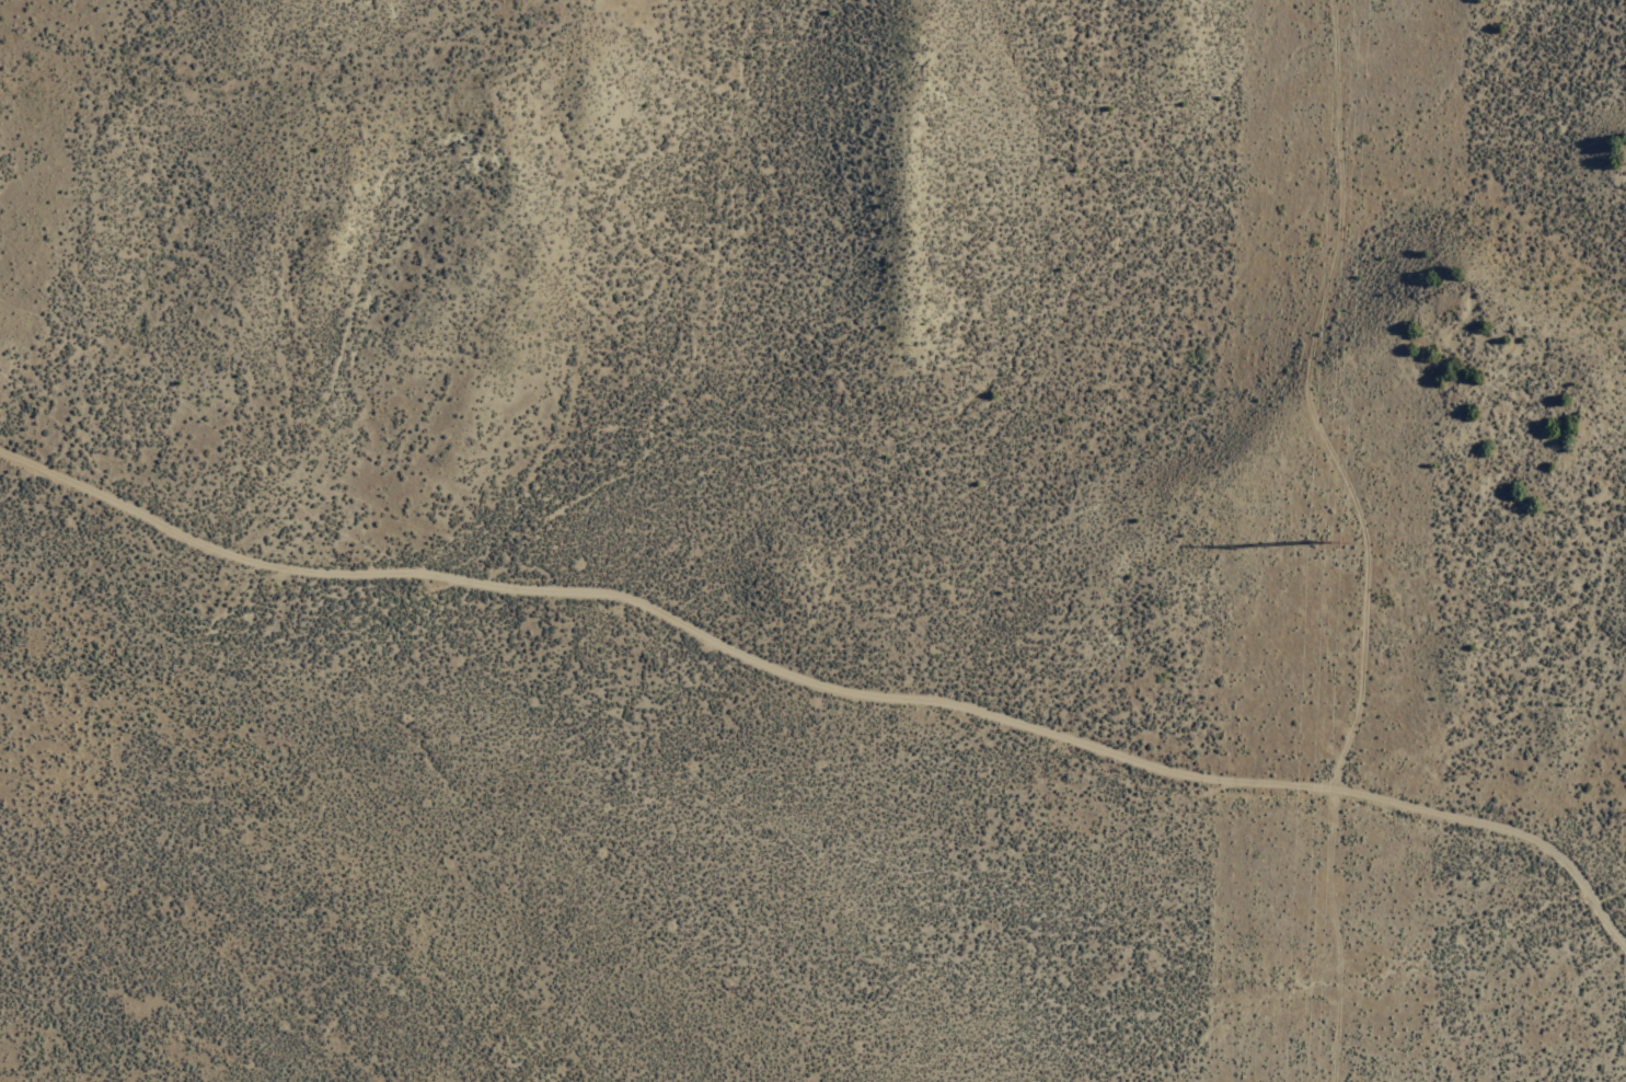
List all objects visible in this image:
road: (1356, 537)
power tower: (1325, 552)
road: (826, 702)
crop: (477, 770)

